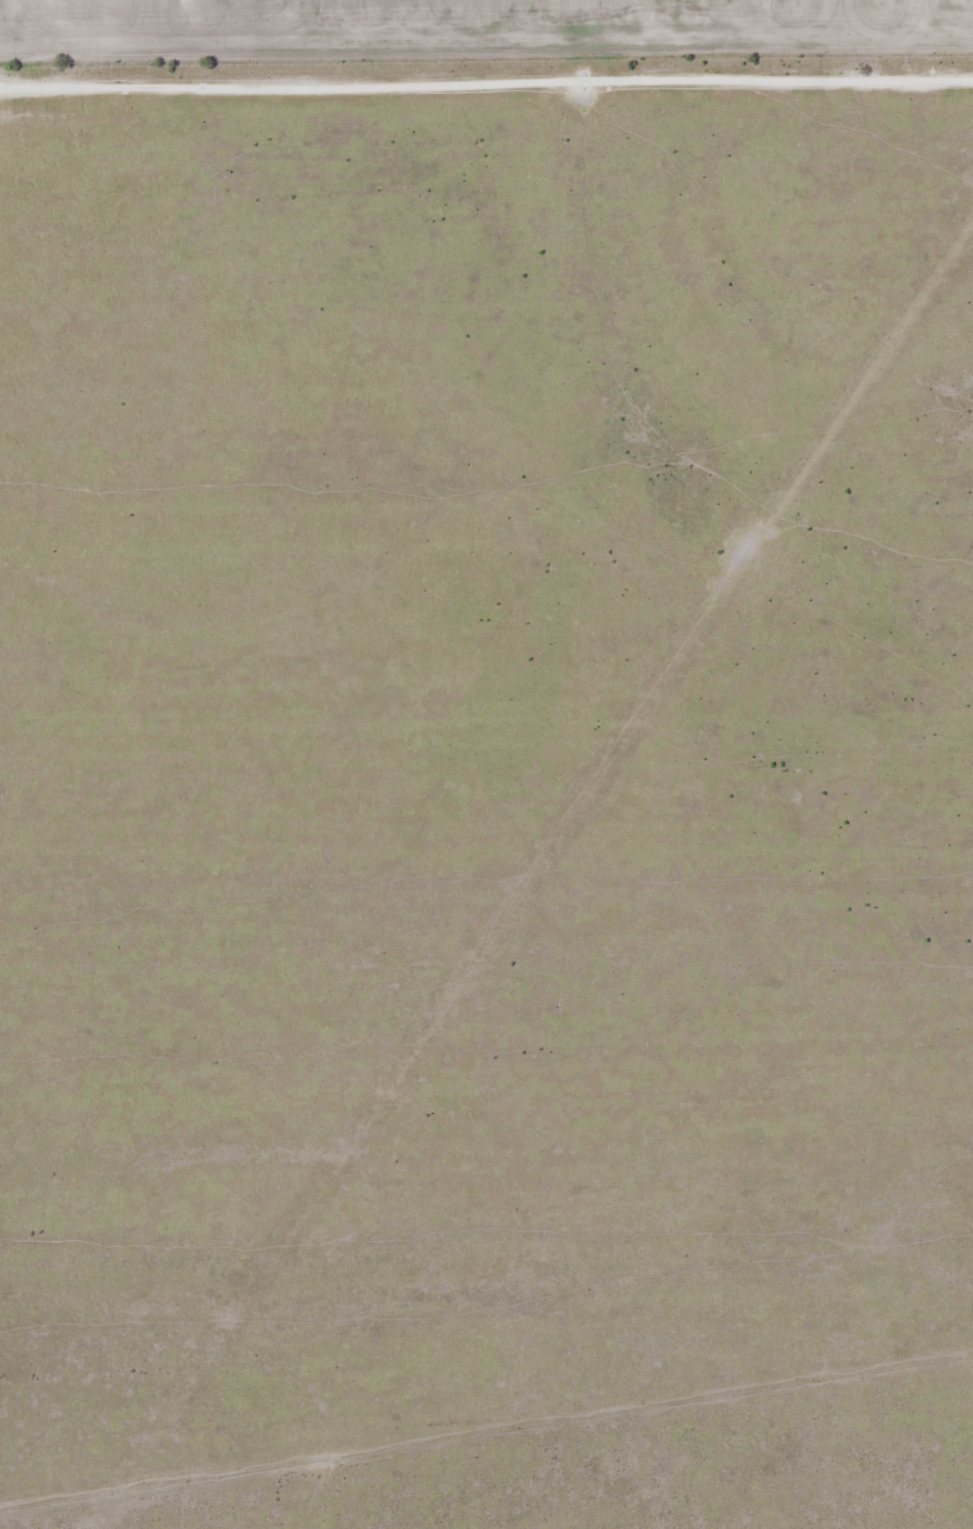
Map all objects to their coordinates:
road: (486, 97)

